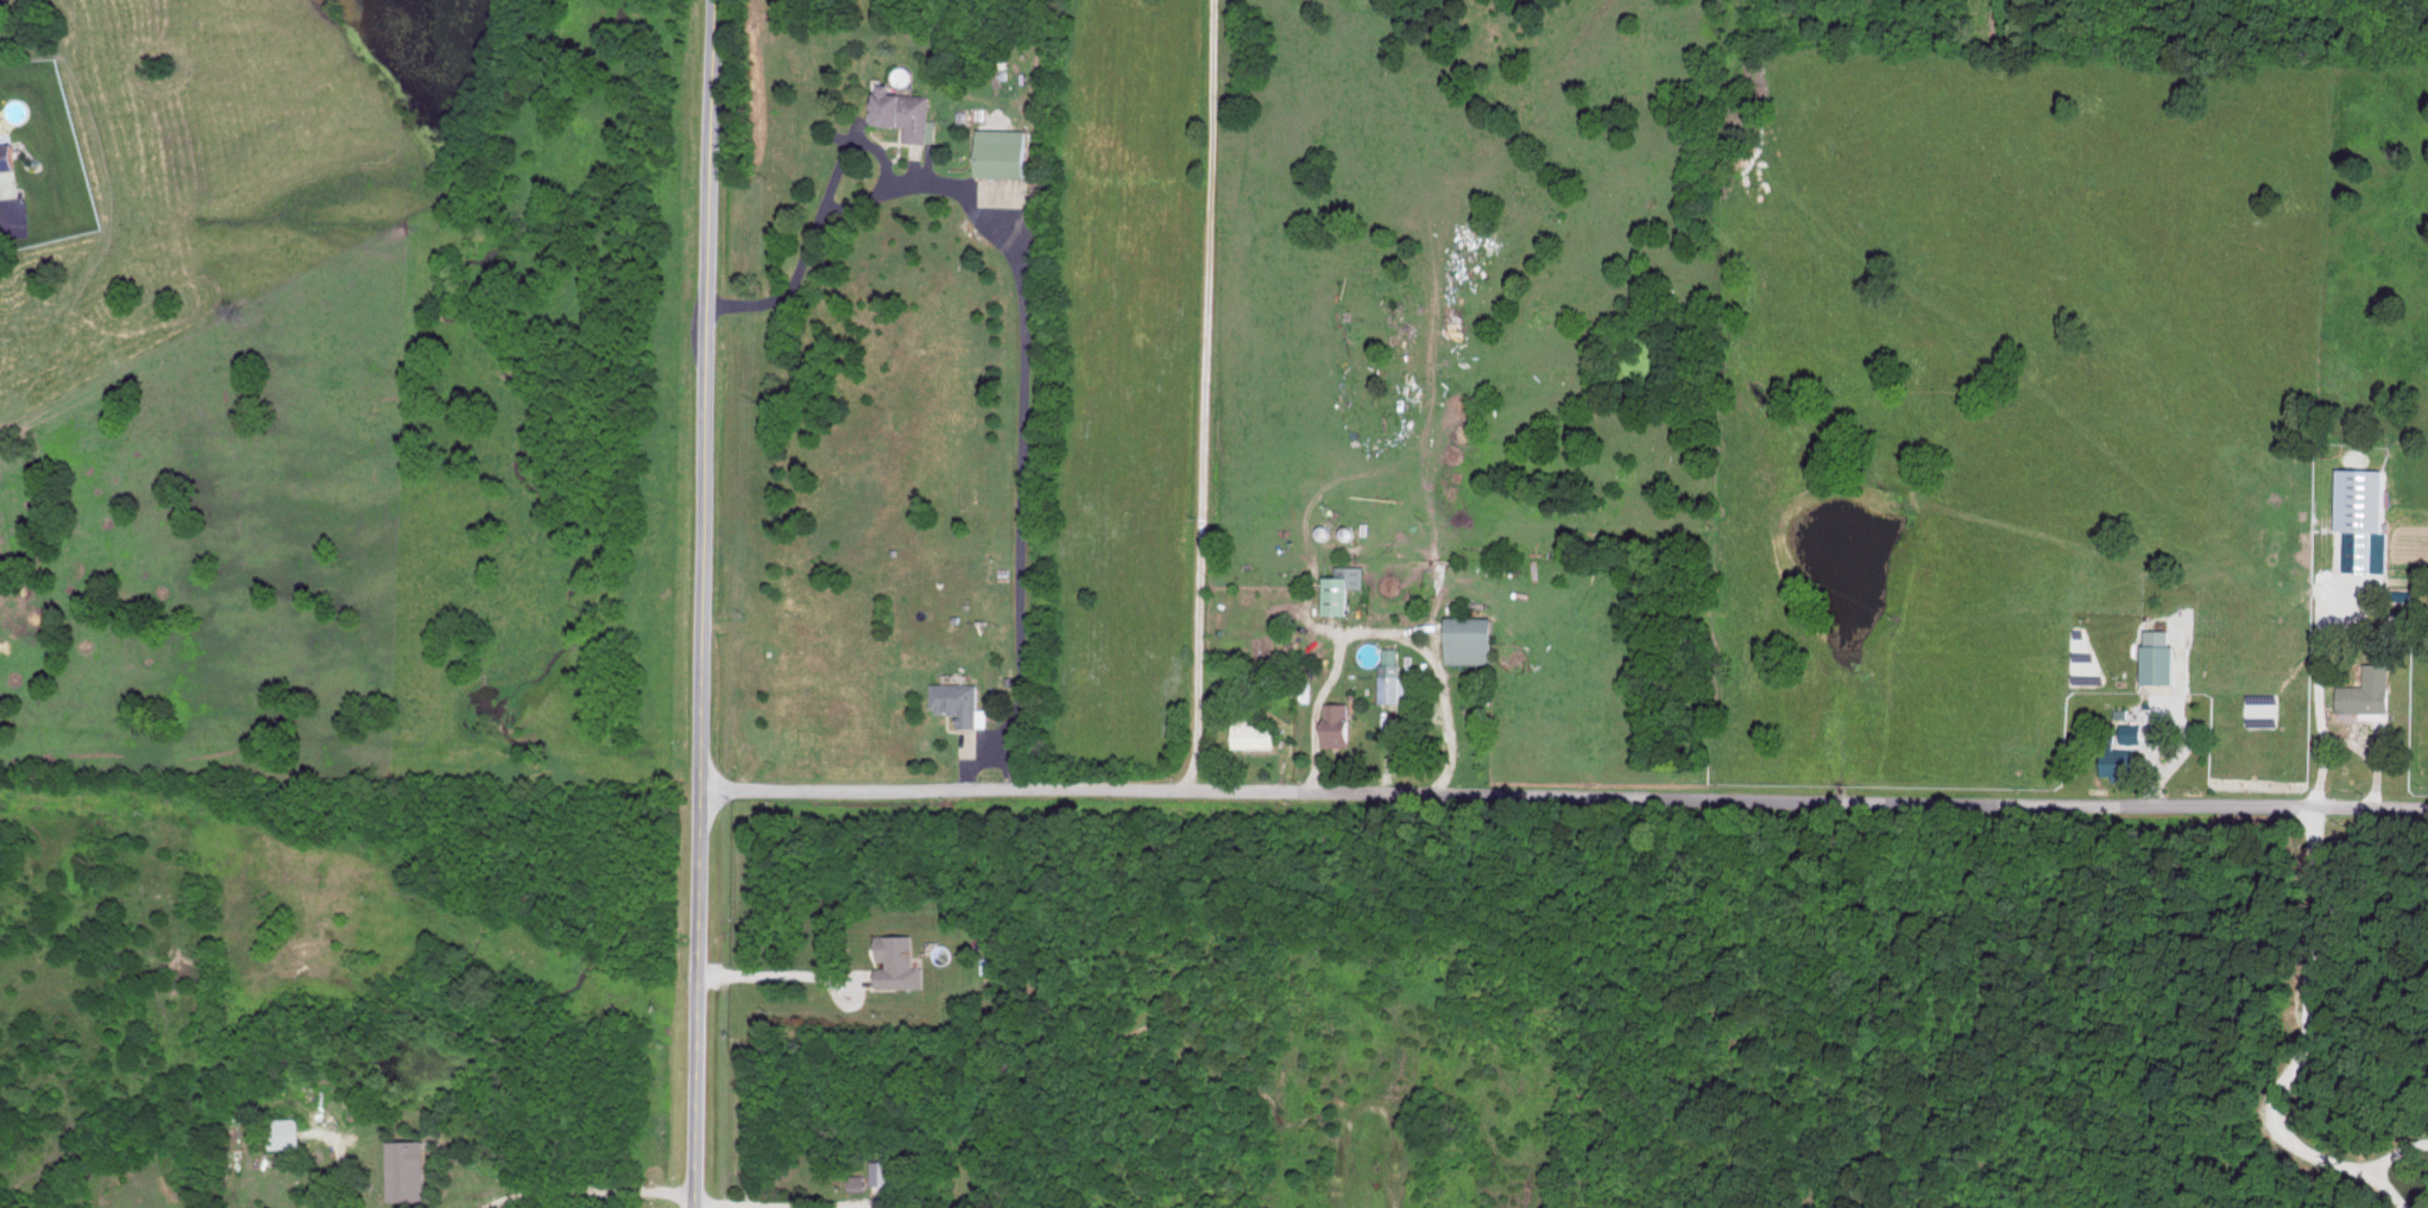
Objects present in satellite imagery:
building: (909, 112)
building: (1008, 151)
building: (10, 154)
road: (1024, 324)
road: (1204, 397)
building: (2361, 516)
building: (1345, 587)
road: (701, 603)
road: (1382, 628)
building: (1472, 639)
building: (2162, 654)
building: (1395, 676)
building: (2371, 689)
building: (960, 700)
building: (1342, 722)
building: (1256, 733)
road: (975, 754)
building: (2120, 761)
road: (1563, 798)
building: (900, 961)
road: (775, 986)
road: (2308, 1024)
building: (284, 1131)
road: (2398, 1156)
building: (410, 1168)
building: (882, 1170)
building: (858, 1179)
road: (2386, 1191)
road: (586, 1193)

